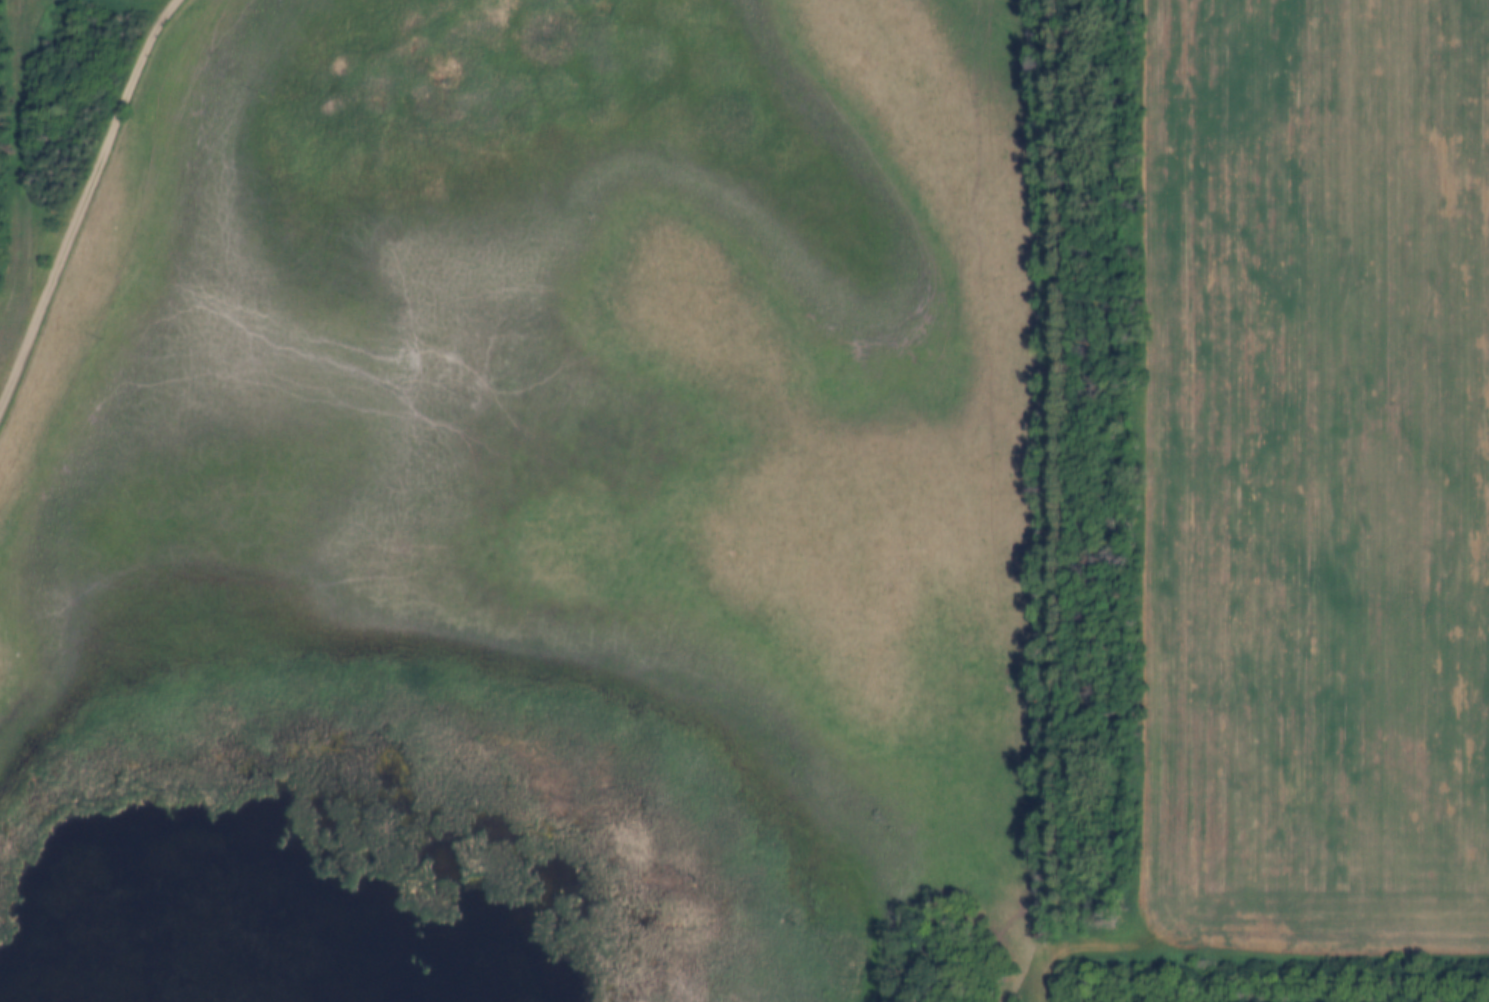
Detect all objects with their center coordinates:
road: (81, 197)
road: (1070, 951)

